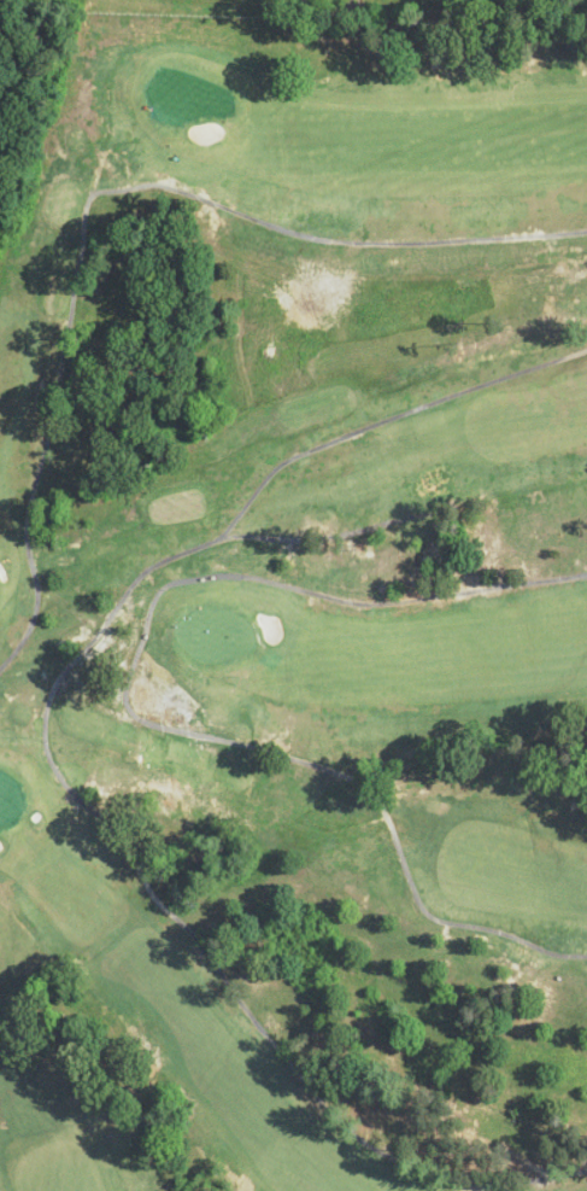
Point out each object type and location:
road: (96, 191)
road: (386, 418)
park: (292, 601)
road: (128, 707)
road: (110, 825)

